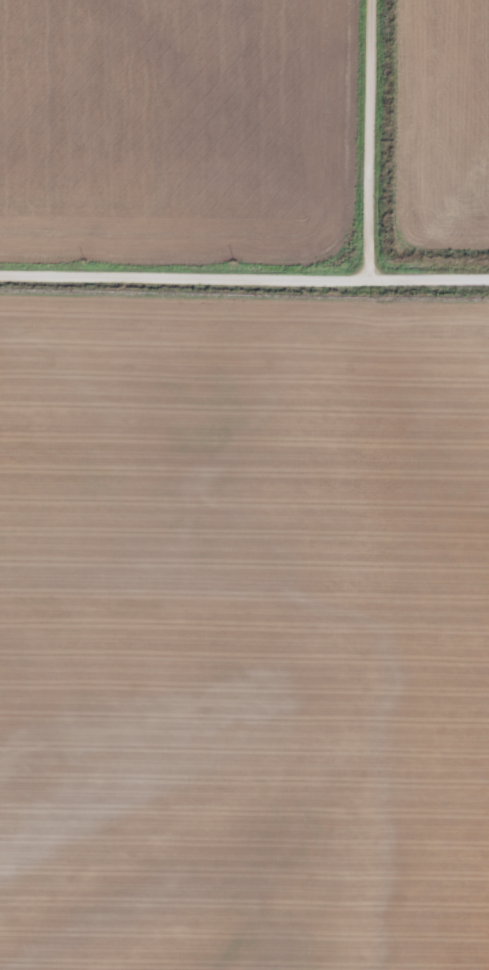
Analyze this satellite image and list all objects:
road: (374, 138)
road: (244, 276)

